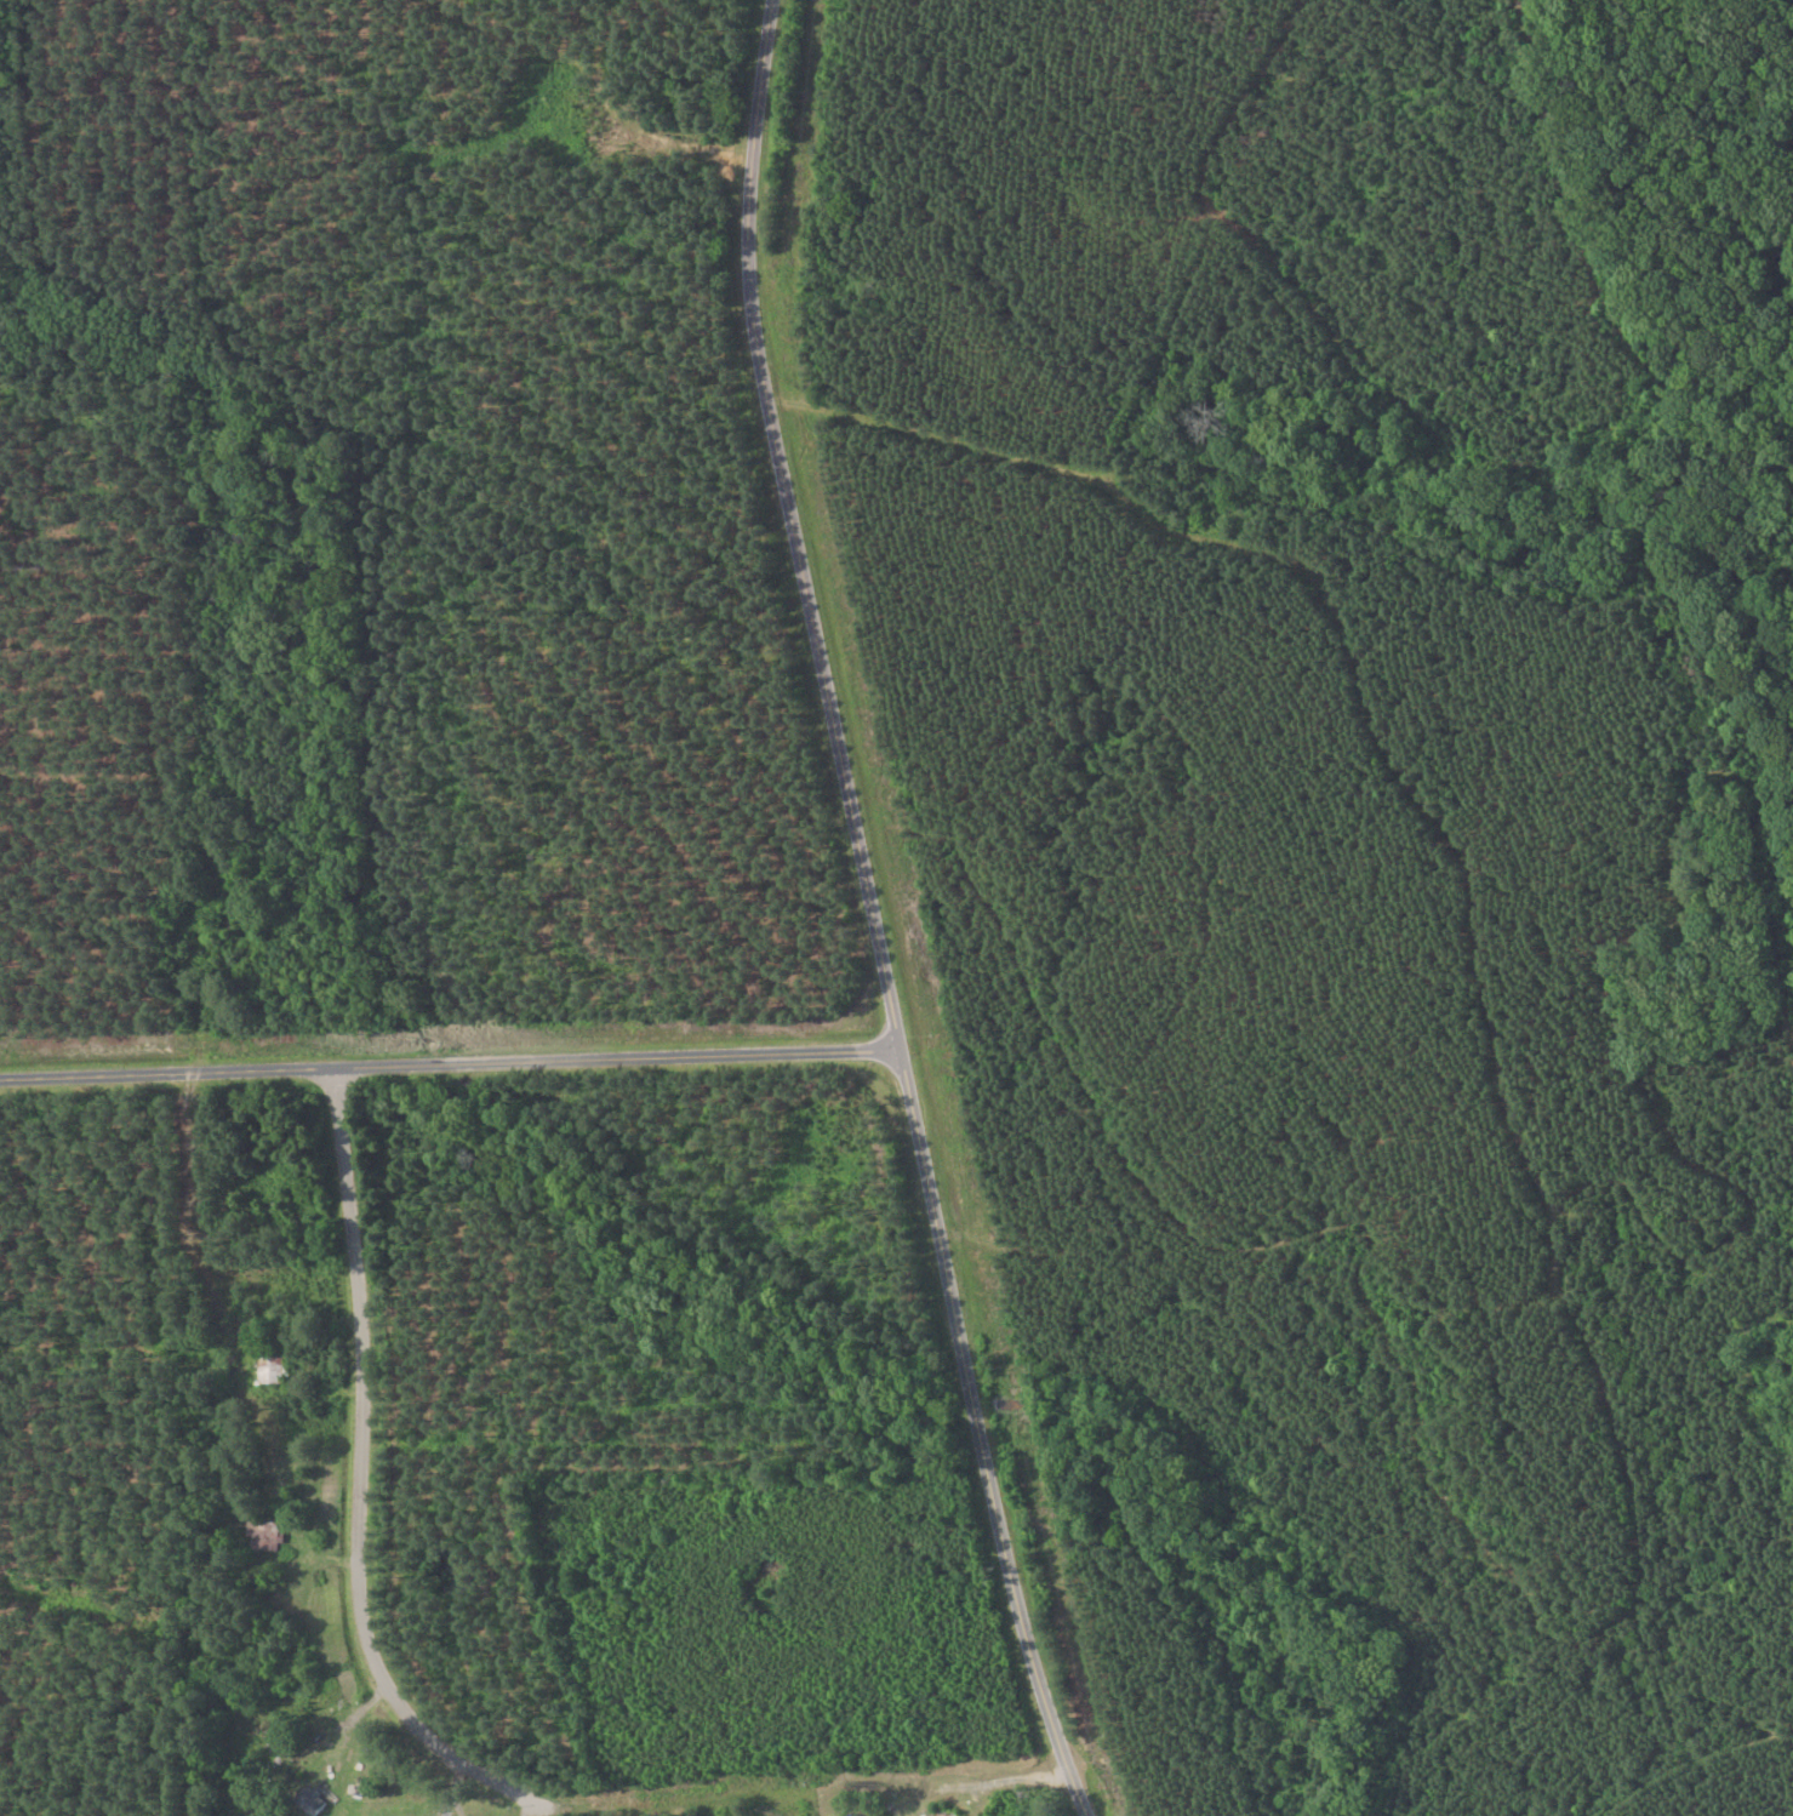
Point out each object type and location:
road: (872, 915)
road: (449, 1064)
road: (350, 1496)
road: (856, 1798)

